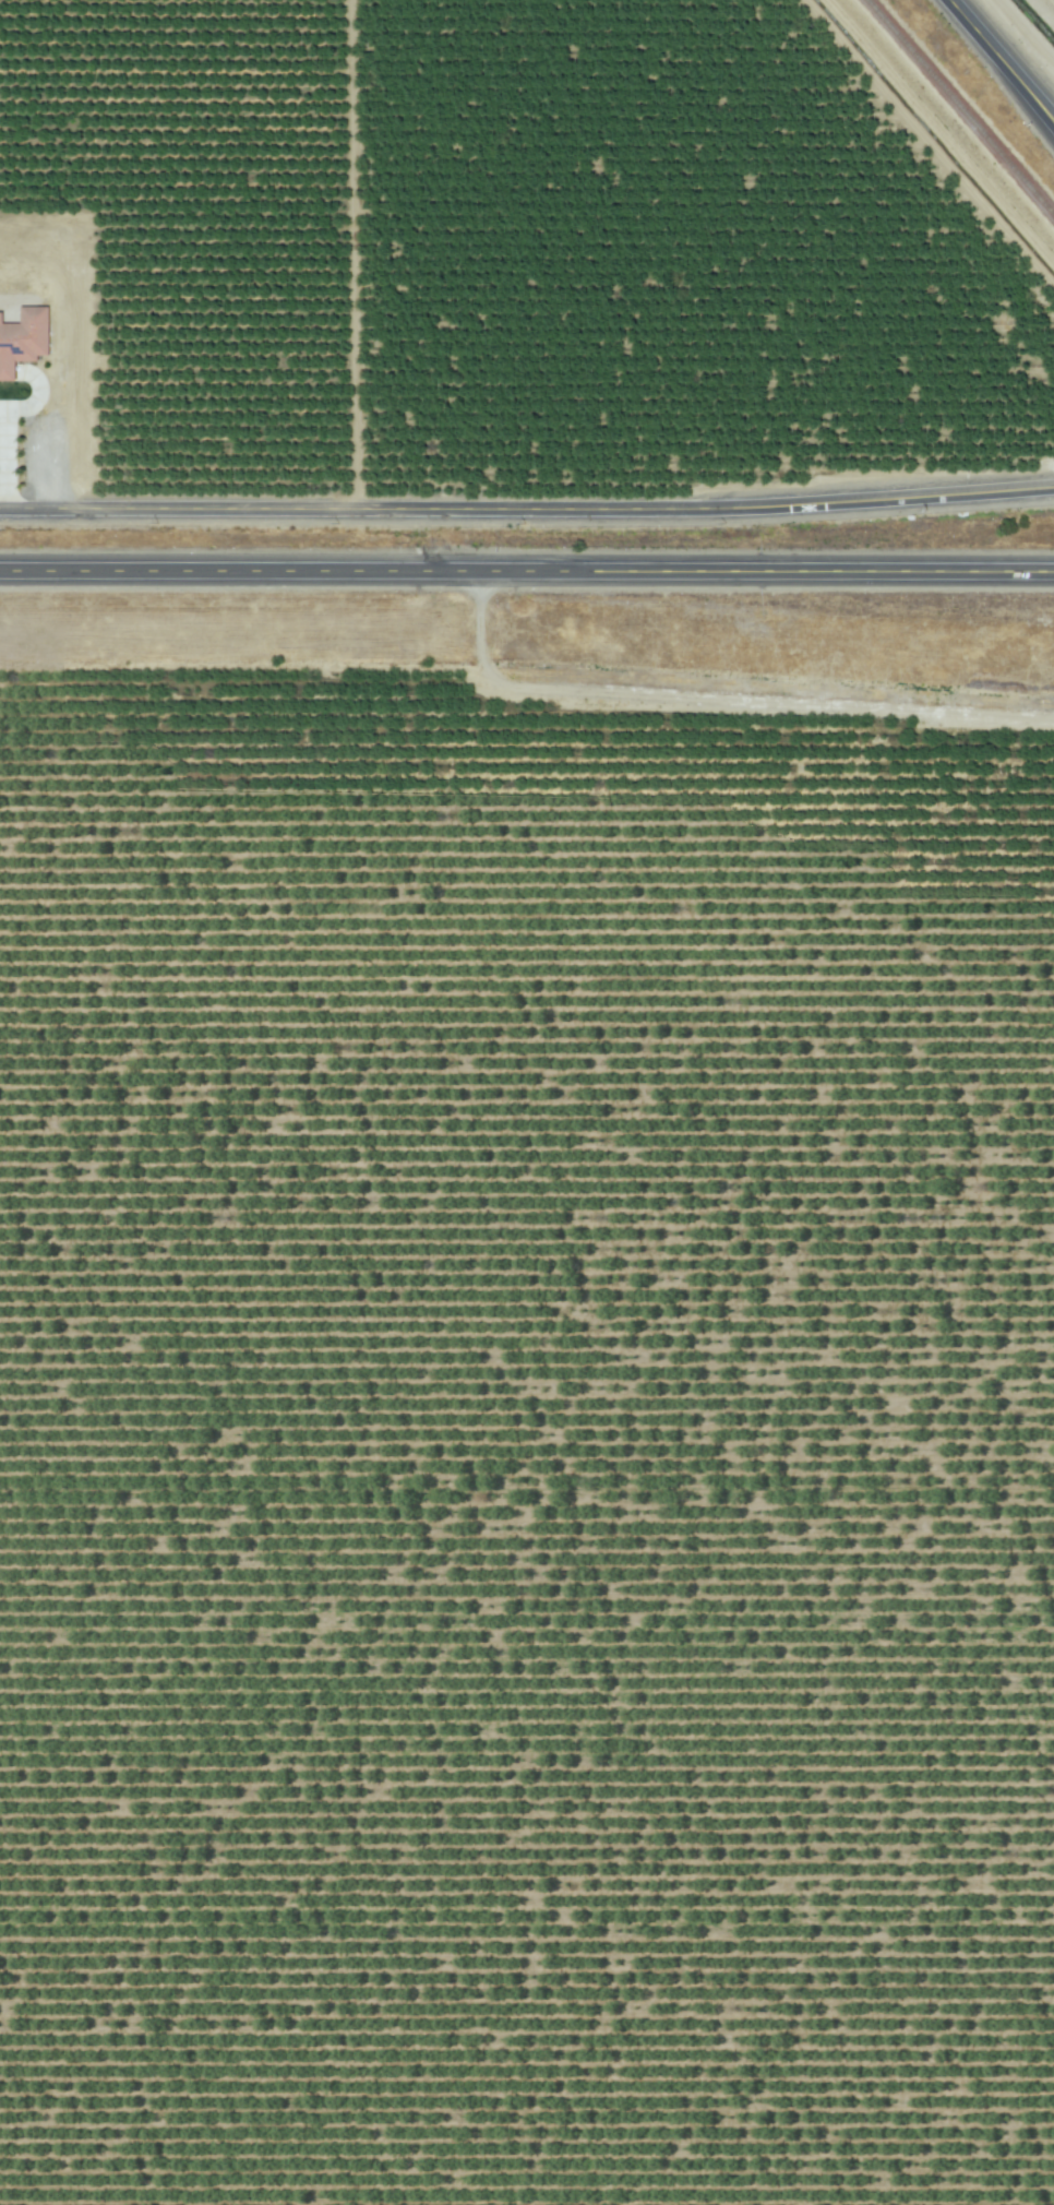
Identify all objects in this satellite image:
crop: (1023, 34)
road: (1002, 61)
railway: (959, 108)
crop: (469, 283)
building: (24, 341)
road: (10, 372)
road: (2, 409)
road: (4, 422)
road: (527, 509)
road: (527, 569)
crop: (519, 1442)

